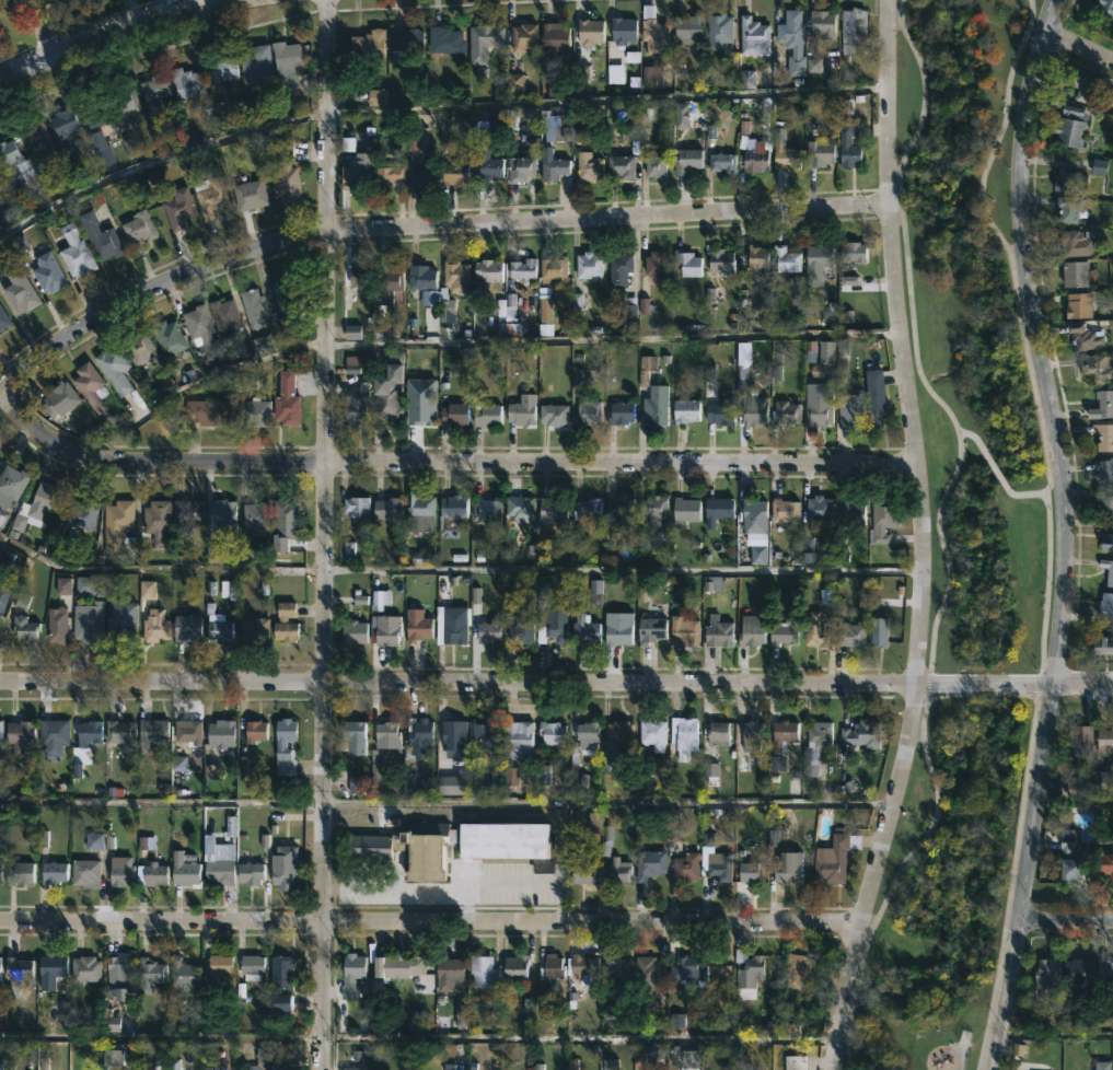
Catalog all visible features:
building: (11, 2)
road: (891, 7)
building: (1106, 9)
road: (1050, 16)
building: (1112, 23)
building: (822, 24)
road: (102, 30)
building: (686, 30)
building: (622, 31)
building: (651, 31)
building: (718, 31)
building: (587, 32)
building: (853, 32)
building: (485, 36)
building: (522, 37)
building: (554, 37)
building: (752, 37)
building: (405, 39)
building: (443, 40)
building: (791, 40)
building: (368, 43)
road: (1078, 47)
building: (285, 65)
building: (255, 66)
building: (220, 69)
building: (652, 77)
building: (186, 85)
building: (1082, 85)
building: (153, 88)
building: (379, 100)
building: (123, 102)
building: (93, 115)
building: (61, 125)
building: (489, 125)
building: (1069, 128)
building: (36, 138)
building: (847, 144)
building: (818, 154)
building: (786, 159)
building: (685, 161)
building: (754, 161)
building: (721, 163)
building: (484, 164)
building: (20, 166)
building: (654, 166)
building: (619, 167)
building: (519, 170)
building: (552, 170)
building: (588, 170)
building: (283, 175)
building: (453, 175)
building: (421, 176)
building: (389, 178)
building: (1, 179)
building: (357, 179)
building: (1066, 181)
building: (246, 196)
building: (208, 197)
building: (176, 209)
building: (1067, 209)
road: (424, 226)
building: (136, 229)
building: (97, 237)
building: (1075, 244)
building: (851, 251)
building: (73, 253)
building: (818, 254)
building: (755, 255)
building: (786, 258)
building: (719, 260)
building: (686, 261)
building: (588, 264)
building: (654, 265)
building: (521, 267)
building: (552, 267)
building: (486, 269)
building: (621, 269)
building: (46, 274)
building: (1074, 274)
building: (357, 275)
building: (454, 275)
building: (419, 276)
building: (387, 277)
building: (16, 289)
building: (289, 301)
building: (1078, 306)
building: (253, 310)
building: (222, 315)
building: (3, 322)
building: (199, 329)
road: (611, 337)
building: (1082, 337)
building: (166, 338)
building: (138, 347)
building: (819, 354)
building: (1097, 368)
building: (112, 370)
building: (419, 373)
building: (88, 387)
building: (873, 396)
building: (385, 397)
building: (58, 398)
building: (285, 402)
building: (355, 406)
building: (654, 406)
building: (1102, 406)
building: (753, 408)
building: (850, 408)
building: (587, 409)
building: (685, 410)
building: (816, 410)
building: (785, 411)
building: (207, 412)
building: (255, 412)
building: (520, 412)
building: (618, 412)
building: (718, 412)
building: (453, 414)
building: (485, 414)
building: (552, 414)
road: (971, 435)
building: (1103, 435)
road: (444, 463)
building: (1103, 468)
road: (993, 469)
building: (13, 486)
road: (1032, 495)
building: (1104, 504)
building: (355, 505)
building: (452, 505)
building: (38, 507)
building: (519, 507)
building: (385, 508)
building: (550, 508)
building: (586, 508)
building: (818, 508)
building: (485, 509)
building: (619, 509)
building: (651, 509)
building: (717, 509)
building: (784, 509)
building: (684, 511)
building: (186, 512)
building: (418, 512)
building: (854, 513)
building: (80, 514)
building: (254, 516)
building: (753, 516)
building: (221, 517)
building: (286, 517)
building: (882, 519)
building: (155, 521)
road: (1046, 527)
building: (117, 528)
road: (324, 534)
road: (939, 535)
road: (918, 538)
building: (1106, 542)
park: (959, 543)
road: (1062, 550)
road: (622, 570)
building: (1108, 570)
building: (150, 591)
building: (4, 598)
building: (1105, 603)
building: (515, 618)
building: (119, 621)
building: (282, 623)
building: (86, 624)
building: (550, 624)
building: (55, 625)
building: (415, 625)
building: (153, 626)
building: (22, 627)
building: (184, 627)
building: (217, 628)
building: (583, 628)
building: (616, 628)
building: (813, 628)
building: (251, 629)
building: (453, 629)
building: (486, 630)
building: (649, 630)
building: (750, 630)
building: (785, 630)
building: (352, 631)
building: (383, 631)
building: (683, 631)
building: (717, 631)
building: (877, 631)
building: (850, 633)
building: (1102, 644)
road: (556, 682)
building: (118, 731)
building: (151, 731)
building: (253, 731)
building: (86, 732)
building: (385, 732)
building: (451, 732)
building: (550, 732)
building: (617, 732)
building: (186, 733)
building: (219, 733)
building: (483, 733)
building: (652, 733)
building: (860, 733)
building: (716, 734)
building: (750, 734)
building: (819, 734)
building: (683, 735)
building: (781, 735)
building: (54, 736)
building: (352, 736)
building: (416, 737)
building: (584, 737)
building: (2, 740)
building: (25, 740)
building: (517, 740)
building: (1103, 741)
building: (1078, 742)
building: (283, 746)
building: (376, 768)
building: (1105, 778)
building: (455, 787)
road: (445, 803)
building: (775, 830)
building: (505, 853)
building: (1068, 854)
building: (833, 858)
building: (217, 861)
building: (648, 863)
building: (580, 864)
building: (787, 865)
building: (1105, 865)
building: (282, 867)
building: (685, 868)
building: (719, 868)
building: (184, 869)
building: (616, 870)
building: (18, 872)
building: (50, 872)
building: (118, 872)
building: (247, 872)
building: (1, 873)
building: (83, 873)
building: (751, 873)
building: (152, 874)
road: (1064, 919)
road: (430, 921)
road: (867, 923)
building: (218, 966)
building: (251, 966)
building: (396, 966)
building: (582, 966)
building: (747, 966)
building: (449, 968)
building: (514, 968)
building: (50, 969)
building: (83, 969)
building: (480, 970)
building: (615, 970)
building: (686, 970)
building: (1076, 970)
building: (1, 972)
building: (15, 972)
building: (796, 972)
building: (280, 973)
building: (548, 973)
building: (1046, 973)
building: (148, 974)
building: (117, 975)
building: (181, 975)
building: (350, 975)
building: (1103, 976)
building: (648, 980)
building: (287, 1008)
road: (576, 1035)
building: (682, 1058)
building: (117, 1060)
building: (1102, 1060)
building: (792, 1062)
building: (276, 1067)
building: (348, 1069)

